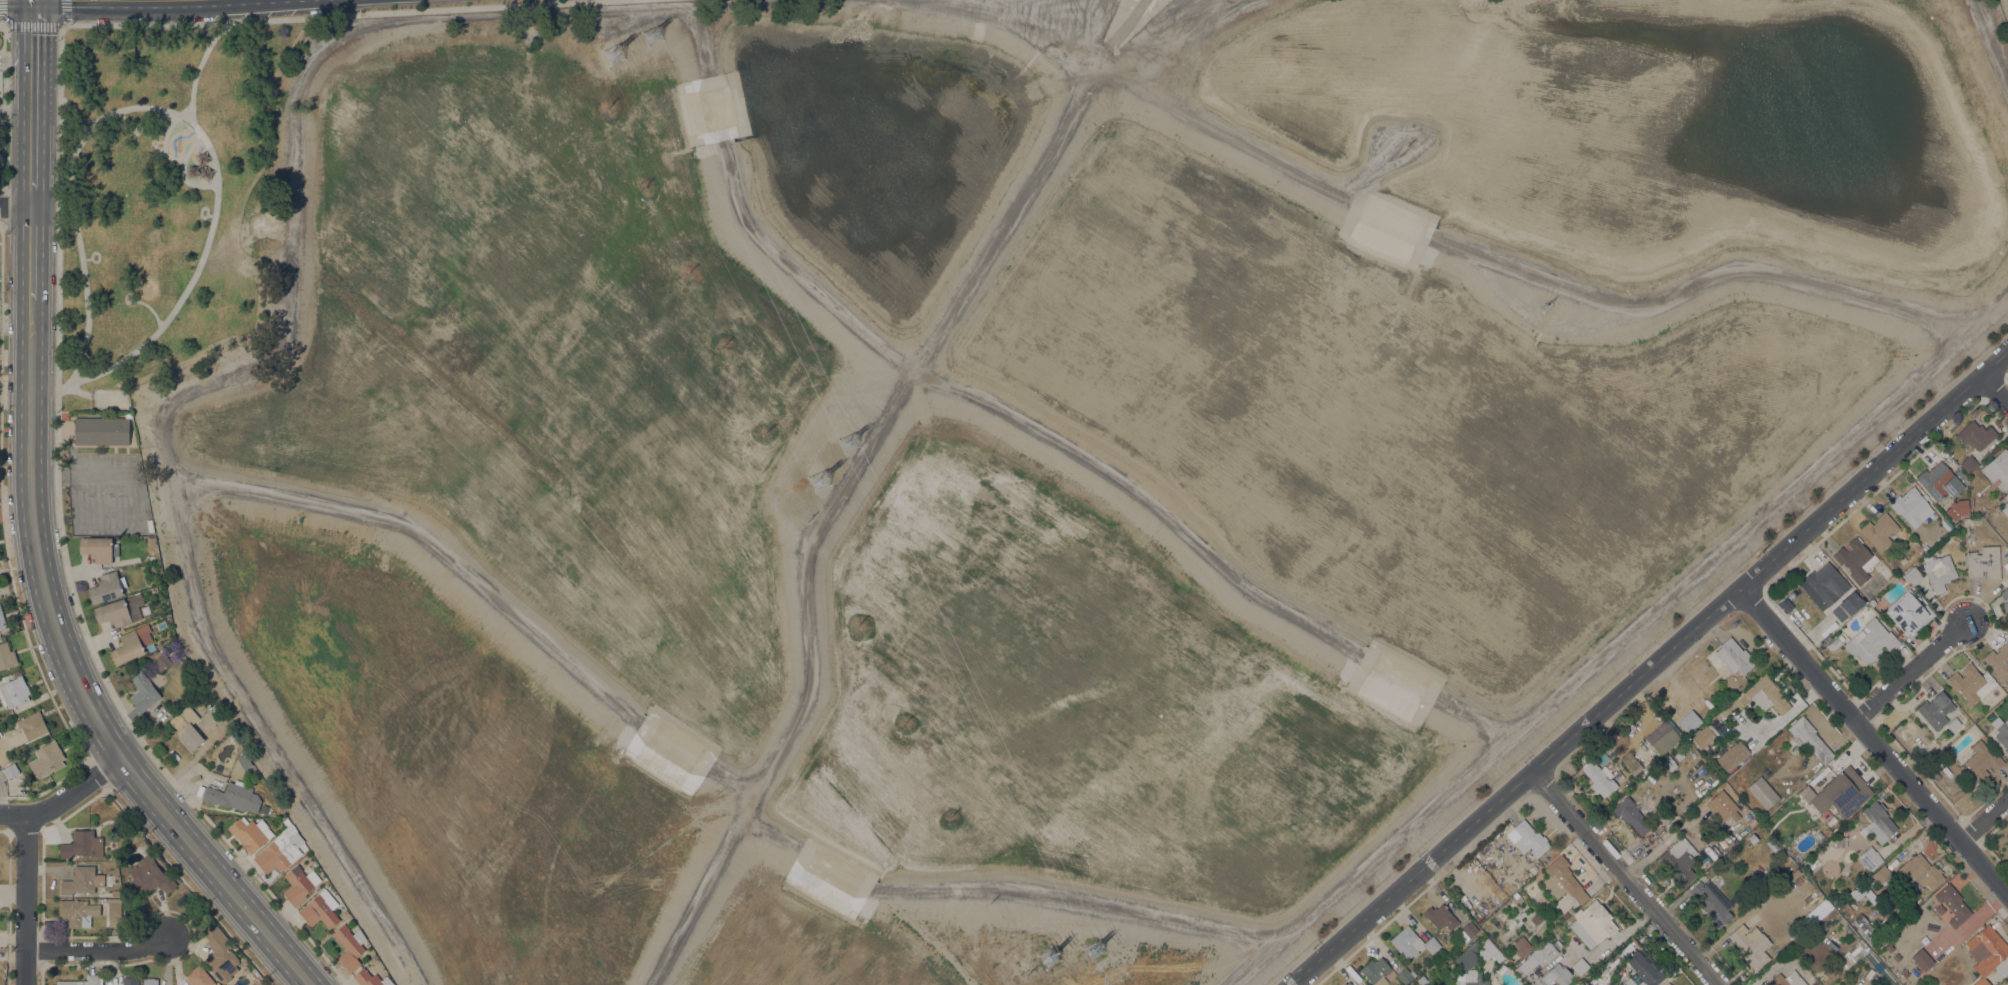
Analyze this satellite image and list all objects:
road: (5, 12)
road: (62, 13)
road: (1202, 14)
road: (339, 15)
road: (1005, 24)
road: (34, 25)
road: (3, 26)
road: (63, 26)
road: (211, 32)
traffic signals: (34, 33)
road: (1177, 34)
power tower: (654, 36)
road: (1991, 40)
power tower: (614, 52)
road: (17, 58)
road: (33, 62)
road: (200, 65)
road: (3, 106)
road: (16, 112)
road: (75, 112)
road: (178, 114)
road: (123, 124)
road: (165, 142)
power tower: (1404, 155)
road: (65, 164)
road: (32, 165)
road: (183, 172)
road: (2, 188)
park: (164, 199)
road: (4, 206)
road: (16, 206)
road: (211, 215)
road: (2, 224)
road: (32, 252)
road: (86, 258)
road: (150, 308)
power tower: (1544, 314)
road: (288, 334)
road: (42, 388)
road: (1994, 388)
road: (72, 389)
road: (106, 396)
building: (101, 430)
building: (1975, 435)
power tower: (849, 440)
building: (1968, 463)
road: (1873, 468)
building: (1998, 468)
road: (851, 475)
road: (42, 476)
road: (56, 476)
road: (64, 476)
road: (102, 476)
power tower: (819, 480)
building: (1941, 481)
parking lot: (108, 494)
building: (1911, 506)
building: (1963, 506)
building: (2005, 508)
building: (1954, 518)
building: (1879, 531)
building: (97, 548)
road: (6, 549)
road: (65, 550)
building: (1901, 558)
building: (1856, 559)
building: (1984, 562)
building: (1938, 570)
building: (1913, 575)
building: (1827, 583)
building: (107, 587)
building: (154, 589)
building: (2004, 594)
building: (1872, 602)
building: (2005, 605)
building: (1846, 606)
building: (120, 610)
building: (1908, 613)
building: (2, 620)
road: (1619, 638)
building: (1840, 638)
building: (1871, 640)
building: (133, 644)
building: (158, 645)
building: (7, 655)
building: (1735, 656)
building: (161, 661)
building: (1998, 661)
power tower: (1852, 663)
road: (1910, 671)
road: (76, 678)
building: (1970, 683)
building: (14, 692)
building: (1767, 694)
building: (142, 696)
building: (1736, 704)
building: (1936, 709)
building: (1718, 716)
building: (1689, 721)
building: (1953, 723)
building: (32, 725)
building: (187, 726)
building: (2001, 731)
building: (1662, 732)
building: (1, 733)
building: (1703, 736)
building: (1808, 738)
road: (1873, 741)
building: (1678, 755)
building: (1733, 755)
building: (46, 759)
building: (1982, 759)
building: (1669, 763)
building: (10, 770)
building: (1599, 778)
road: (1515, 786)
building: (1763, 792)
building: (1839, 792)
road: (63, 796)
building: (234, 796)
road: (0, 800)
building: (1721, 805)
building: (264, 808)
building: (1825, 815)
building: (1745, 816)
building: (1634, 818)
road: (1984, 820)
building: (286, 821)
building: (1878, 822)
building: (251, 833)
building: (1527, 838)
building: (1752, 838)
building: (82, 844)
building: (278, 851)
building: (1870, 857)
building: (1679, 860)
building: (1707, 861)
building: (1922, 869)
building: (1794, 873)
building: (1881, 874)
building: (149, 875)
road: (1626, 877)
building: (79, 880)
building: (1562, 880)
building: (299, 884)
building: (1867, 892)
road: (26, 899)
building: (1711, 902)
building: (1953, 904)
building: (320, 909)
building: (1818, 910)
building: (77, 912)
building: (114, 912)
building: (344, 913)
building: (1565, 914)
building: (1444, 916)
building: (1806, 917)
building: (1537, 918)
building: (1592, 923)
building: (1865, 930)
building: (1467, 931)
building: (1411, 942)
building: (1750, 945)
building: (349, 946)
building: (1520, 946)
building: (1889, 947)
power tower: (1095, 949)
road: (98, 951)
building: (1492, 951)
building: (1988, 953)
building: (220, 954)
building: (1896, 956)
building: (1537, 957)
power tower: (1051, 958)
building: (1468, 958)
building: (1847, 960)
building: (1922, 960)
building: (1580, 965)
building: (1645, 968)
building: (1375, 971)
building: (1556, 973)
building: (1905, 974)
building: (200, 976)
building: (1404, 976)
building: (370, 978)
building: (1467, 978)
building: (1528, 978)
building: (2007, 978)
building: (94, 979)
building: (1788, 979)
building: (130, 981)
building: (150, 981)
building: (66, 982)
building: (1483, 982)
building: (1629, 982)
building: (1347, 983)
building: (1667, 984)

